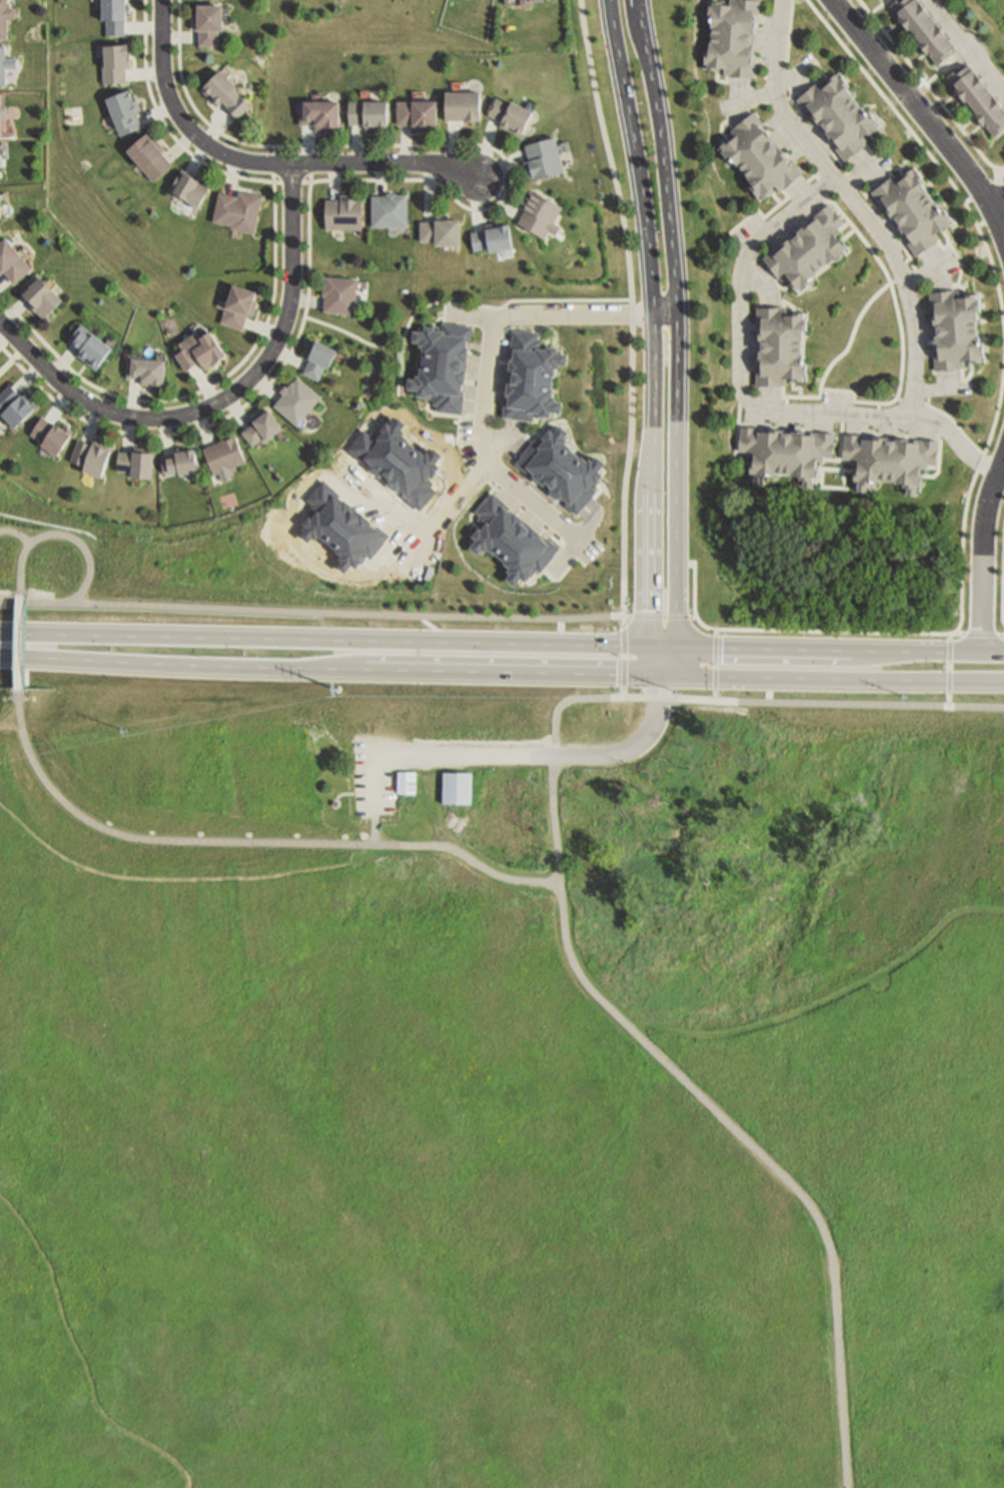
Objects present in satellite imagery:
building: (211, 0)
building: (524, 1)
building: (112, 14)
park: (990, 16)
building: (5, 18)
building: (206, 21)
road: (143, 24)
building: (924, 27)
road: (791, 31)
road: (178, 34)
building: (729, 37)
road: (966, 46)
building: (113, 61)
building: (3, 65)
road: (145, 71)
road: (929, 88)
building: (223, 92)
building: (978, 96)
building: (461, 104)
building: (122, 109)
road: (157, 110)
building: (415, 111)
building: (318, 112)
building: (366, 112)
building: (509, 113)
building: (3, 114)
road: (923, 115)
building: (842, 116)
road: (180, 142)
road: (206, 142)
road: (453, 142)
road: (308, 143)
road: (357, 143)
road: (406, 143)
road: (486, 146)
road: (925, 149)
building: (147, 153)
building: (542, 157)
building: (761, 158)
road: (264, 160)
road: (501, 163)
building: (0, 164)
road: (637, 166)
road: (231, 171)
road: (665, 173)
road: (380, 175)
road: (1000, 176)
road: (334, 177)
building: (187, 185)
road: (428, 188)
road: (987, 190)
road: (501, 191)
road: (477, 200)
road: (856, 202)
road: (998, 203)
road: (496, 204)
building: (236, 208)
building: (387, 208)
building: (537, 210)
building: (917, 210)
building: (342, 211)
road: (990, 221)
building: (1, 228)
building: (438, 230)
building: (490, 237)
building: (810, 251)
building: (13, 262)
road: (2, 279)
road: (887, 281)
building: (338, 292)
building: (39, 296)
road: (304, 299)
building: (235, 305)
road: (633, 306)
road: (480, 307)
road: (12, 309)
road: (446, 313)
road: (450, 314)
road: (565, 314)
road: (262, 324)
road: (5, 334)
road: (351, 334)
building: (953, 338)
building: (777, 343)
building: (87, 344)
building: (196, 349)
road: (288, 353)
road: (12, 356)
building: (316, 357)
building: (440, 363)
building: (145, 369)
building: (529, 375)
road: (30, 378)
road: (214, 380)
road: (204, 382)
road: (265, 382)
road: (845, 390)
road: (132, 396)
road: (221, 396)
road: (799, 396)
road: (749, 397)
building: (294, 399)
road: (60, 406)
road: (237, 407)
building: (17, 408)
road: (236, 409)
road: (996, 417)
road: (93, 425)
road: (203, 425)
building: (260, 426)
road: (128, 430)
road: (166, 433)
building: (52, 437)
road: (506, 438)
road: (485, 449)
building: (222, 454)
building: (788, 457)
building: (92, 458)
building: (178, 460)
building: (135, 461)
building: (890, 463)
road: (980, 463)
road: (653, 492)
road: (677, 500)
road: (379, 501)
road: (443, 514)
road: (16, 534)
building: (513, 540)
road: (986, 551)
road: (90, 566)
road: (10, 578)
road: (21, 587)
road: (349, 613)
road: (691, 617)
road: (628, 618)
road: (645, 618)
road: (662, 618)
road: (675, 618)
road: (625, 622)
road: (428, 624)
road: (713, 633)
road: (905, 634)
road: (956, 634)
road: (982, 636)
road: (1001, 636)
road: (443, 637)
road: (331, 639)
road: (625, 640)
road: (20, 643)
traffic signals: (662, 647)
road: (713, 650)
road: (833, 650)
road: (951, 651)
road: (625, 657)
road: (661, 660)
road: (713, 666)
road: (950, 666)
road: (330, 668)
road: (625, 671)
traffic signals: (661, 673)
road: (832, 677)
road: (713, 679)
road: (950, 681)
power tower: (338, 688)
power tower: (679, 691)
road: (624, 692)
road: (713, 695)
power tower: (908, 697)
road: (671, 699)
road: (950, 699)
road: (869, 704)
road: (20, 706)
road: (10, 723)
power tower: (127, 733)
road: (525, 757)
road: (554, 771)
parking lot: (375, 777)
building: (408, 782)
building: (457, 789)
road: (376, 824)
road: (266, 841)
road: (182, 879)
road: (830, 999)
road: (765, 1157)
road: (82, 1354)

